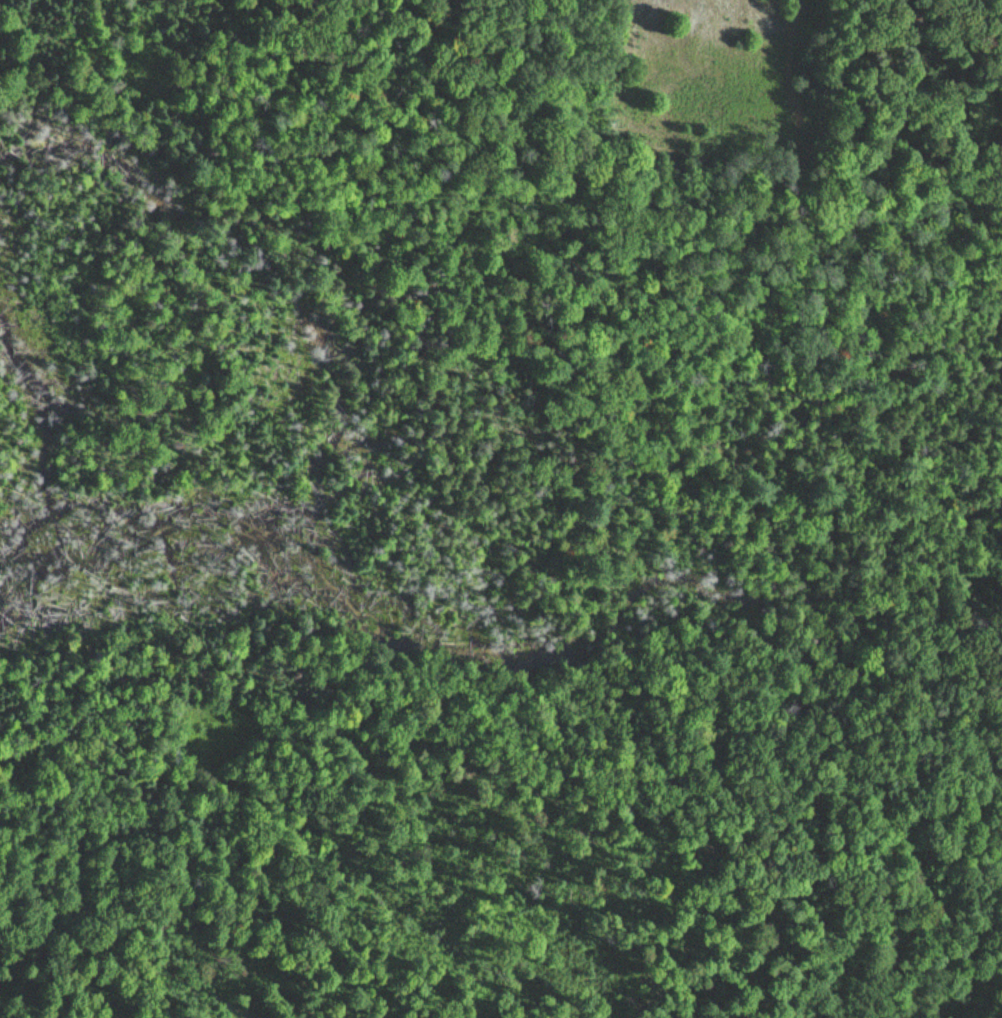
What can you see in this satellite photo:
road: (546, 9)
road: (796, 184)
river: (543, 632)

